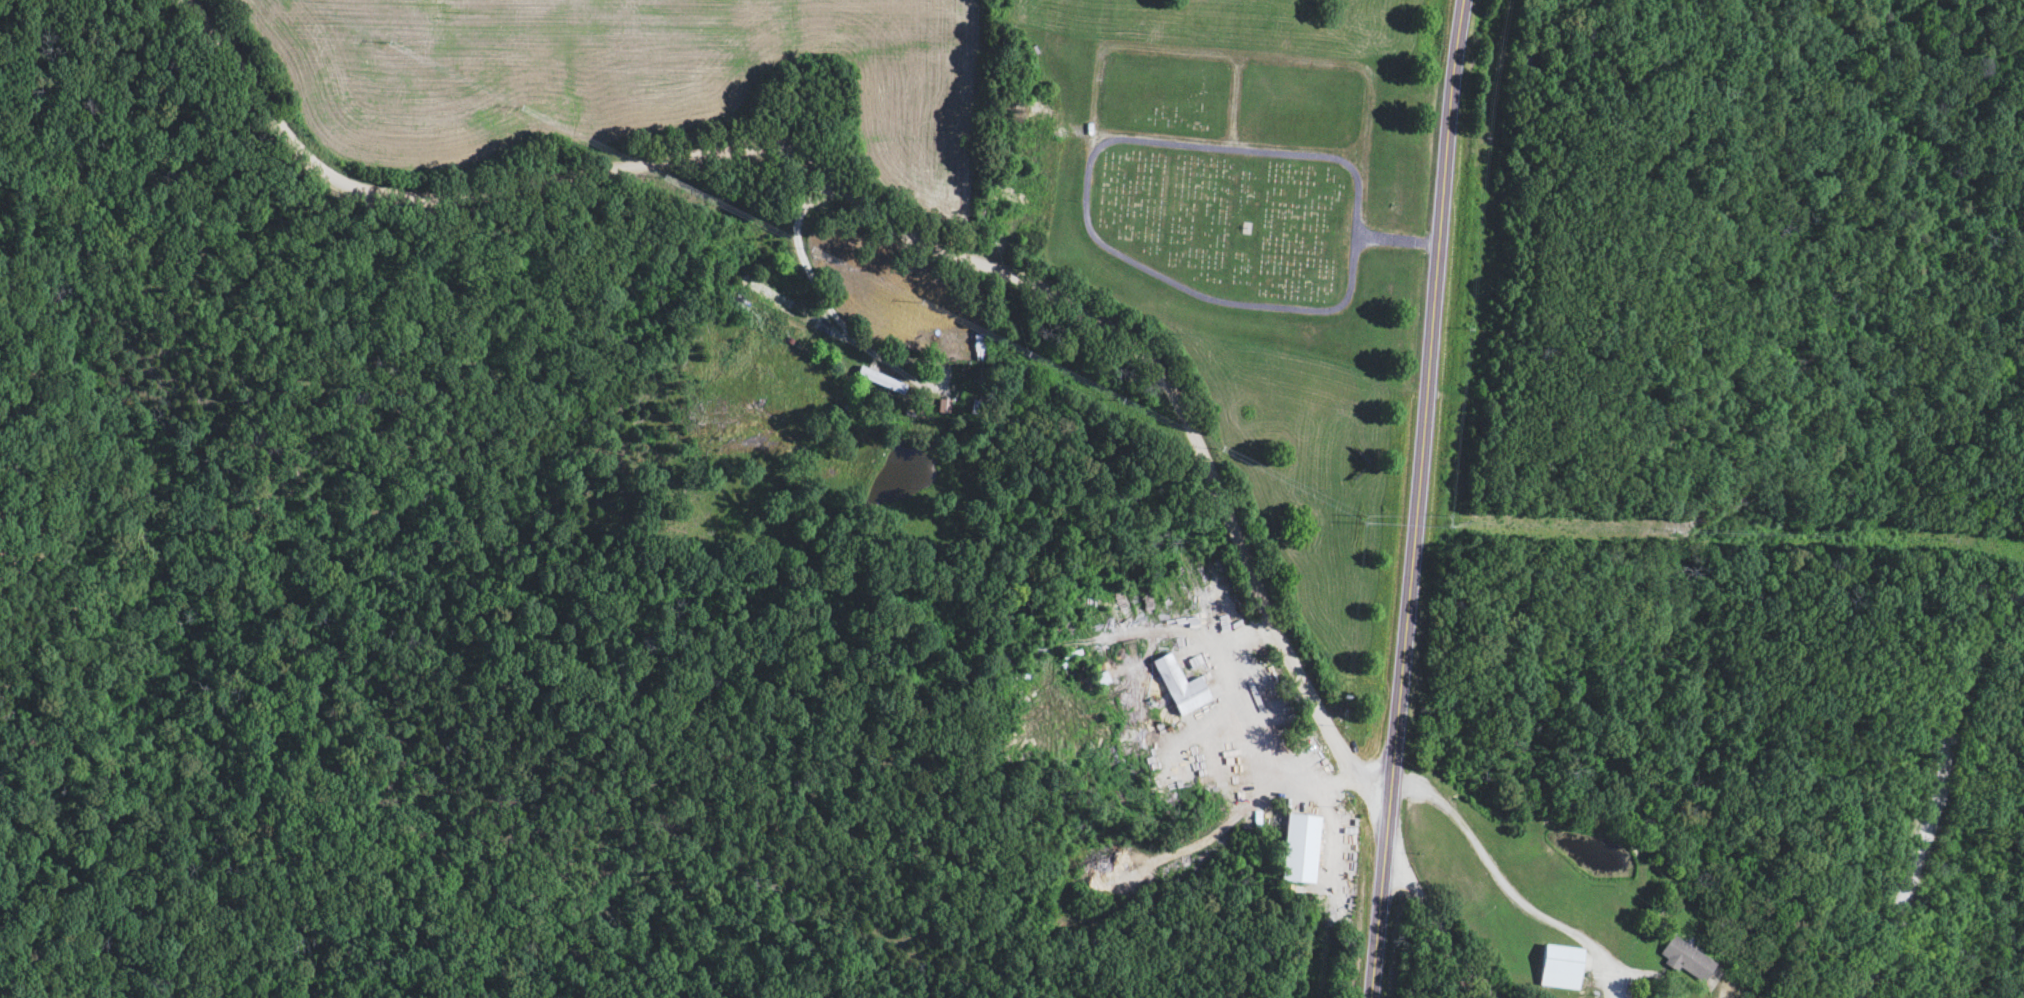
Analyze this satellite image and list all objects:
road: (887, 209)
road: (1091, 226)
road: (1402, 243)
road: (804, 254)
building: (979, 348)
building: (881, 381)
road: (1426, 499)
building: (1101, 680)
building: (1183, 687)
road: (1282, 774)
road: (1936, 792)
road: (1331, 824)
building: (1301, 849)
road: (1511, 890)
building: (1686, 960)
building: (1560, 967)
road: (1726, 996)

